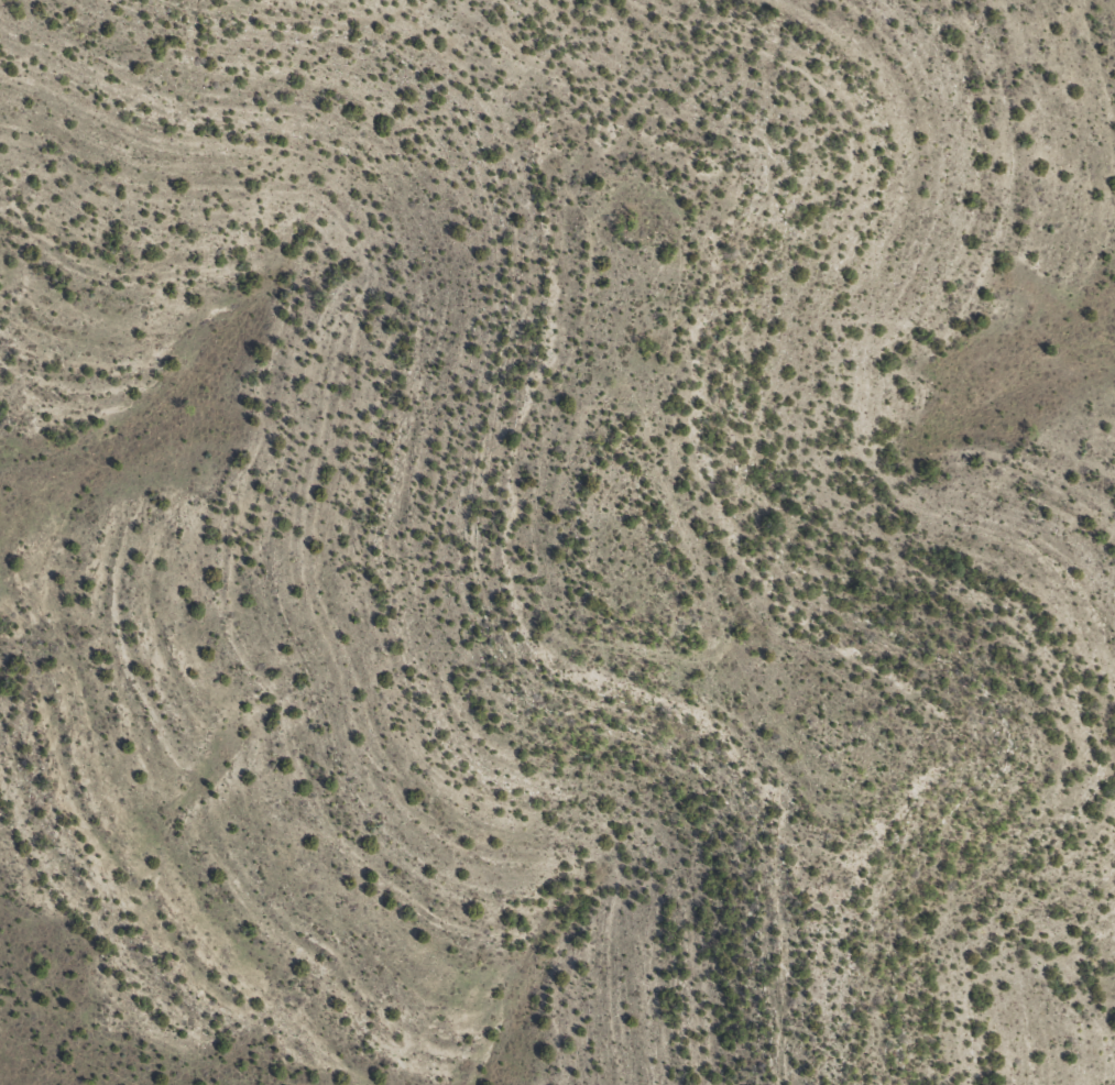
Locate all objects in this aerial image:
road: (2, 1066)

